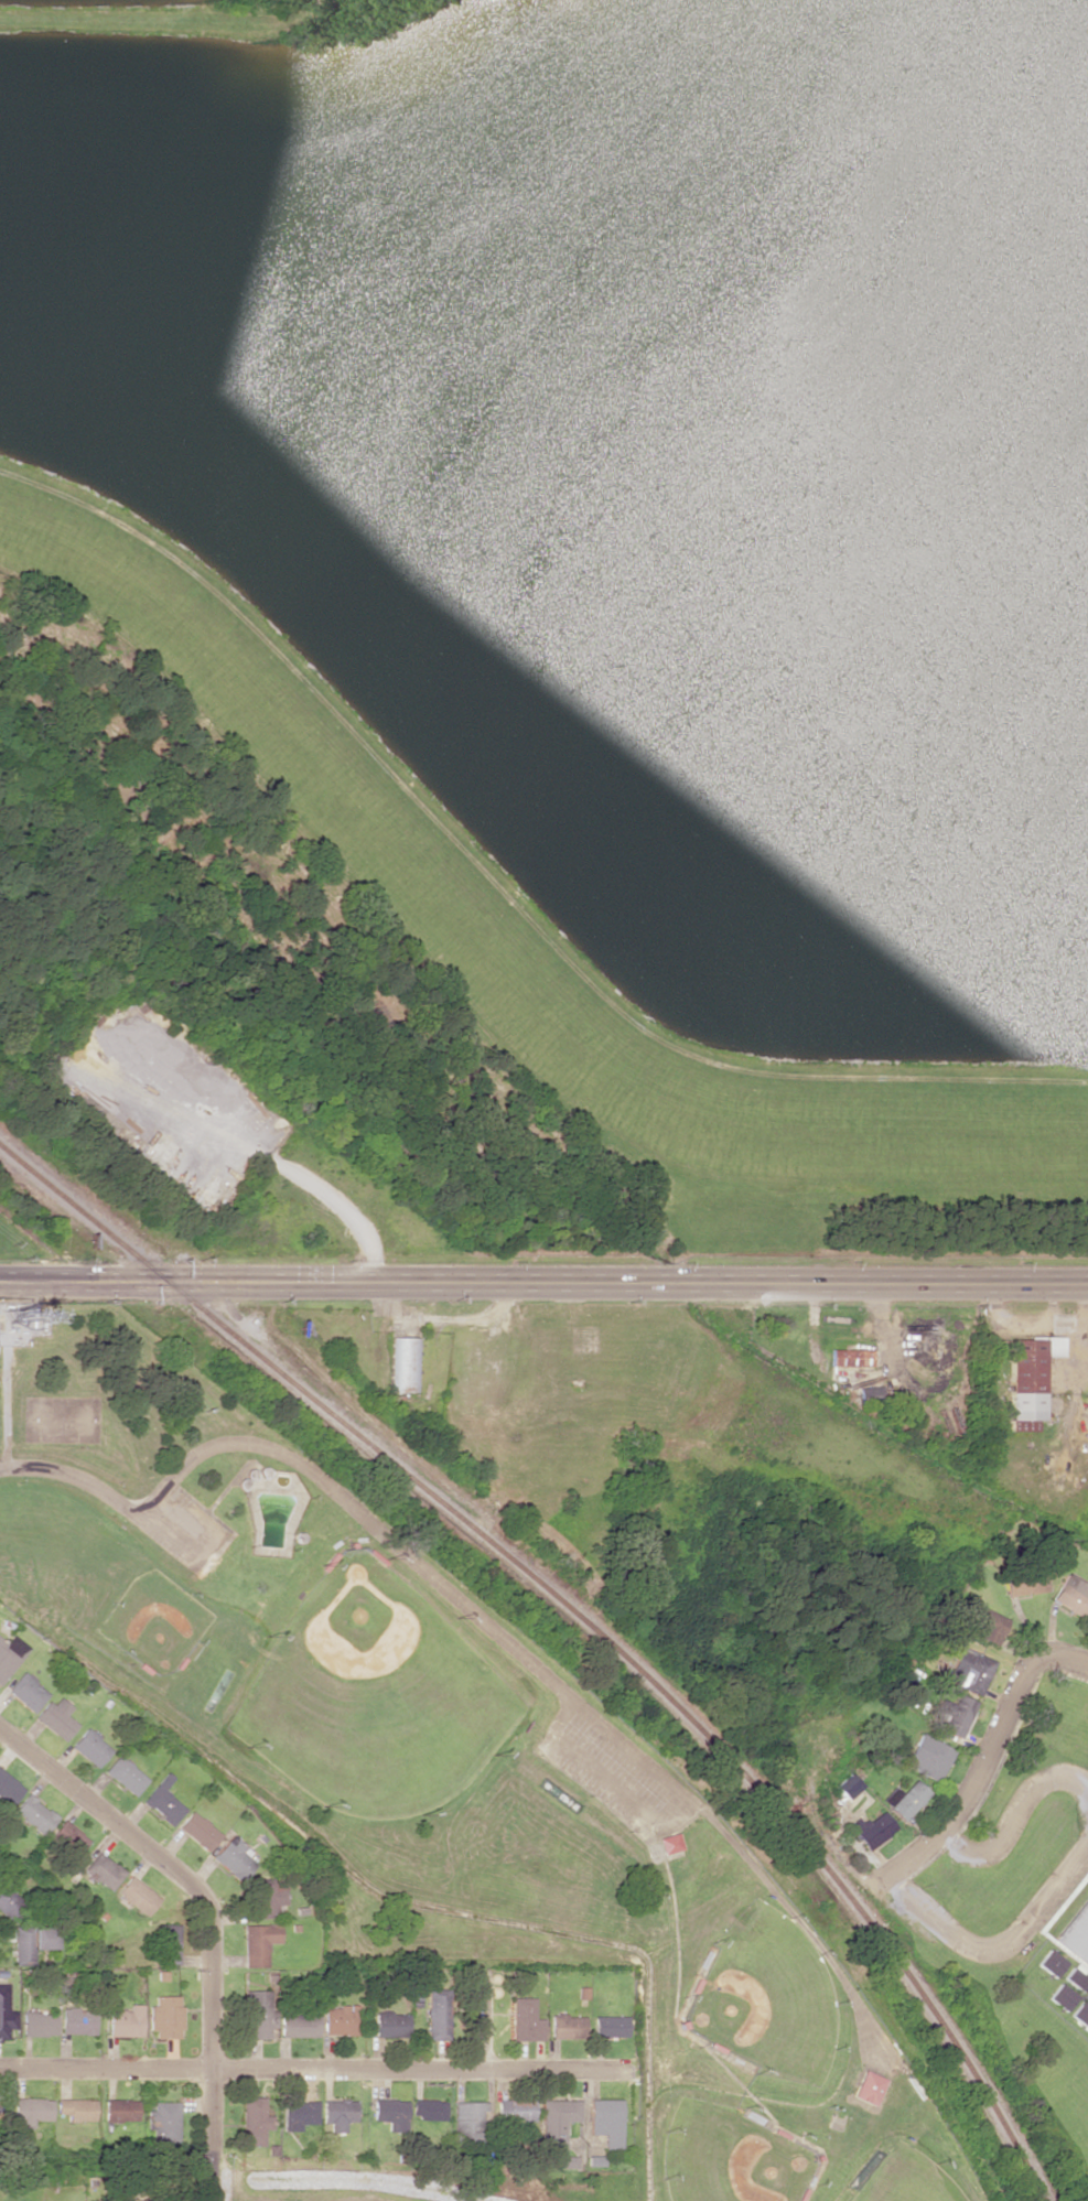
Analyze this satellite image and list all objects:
road: (543, 1283)
building: (850, 1357)
building: (403, 1364)
road: (4, 1372)
building: (1027, 1380)
building: (1022, 1584)
building: (1071, 1595)
park: (153, 1621)
railway: (579, 1621)
building: (988, 1625)
road: (493, 1629)
building: (1087, 1629)
building: (10, 1654)
building: (968, 1669)
building: (26, 1691)
park: (374, 1695)
building: (954, 1714)
building: (57, 1717)
road: (1002, 1720)
building: (90, 1747)
building: (927, 1757)
building: (125, 1774)
building: (845, 1785)
building: (9, 1788)
building: (904, 1799)
building: (163, 1801)
building: (34, 1813)
road: (1012, 1817)
building: (872, 1828)
building: (198, 1830)
building: (69, 1836)
building: (234, 1857)
building: (104, 1870)
building: (138, 1895)
building: (267, 1897)
building: (9, 1902)
road: (211, 1914)
building: (1076, 1933)
building: (4, 1934)
building: (44, 1938)
road: (965, 1942)
building: (166, 1943)
building: (258, 1943)
building: (22, 1946)
building: (1049, 1962)
building: (1075, 1975)
building: (1060, 1996)
park: (768, 1997)
building: (4, 2013)
building: (438, 2013)
road: (644, 2014)
building: (1080, 2014)
building: (259, 2015)
building: (165, 2016)
building: (341, 2019)
building: (77, 2020)
building: (126, 2020)
building: (526, 2020)
building: (37, 2024)
building: (390, 2024)
building: (299, 2025)
building: (568, 2026)
building: (611, 2026)
road: (321, 2067)
building: (868, 2086)
road: (488, 2097)
building: (77, 2108)
building: (121, 2108)
building: (516, 2108)
building: (32, 2110)
building: (430, 2110)
building: (338, 2113)
building: (391, 2113)
building: (300, 2114)
building: (0, 2115)
building: (468, 2119)
building: (164, 2121)
building: (254, 2121)
building: (607, 2121)
building: (558, 2122)
park: (732, 2157)
building: (562, 2162)
park: (908, 2179)

